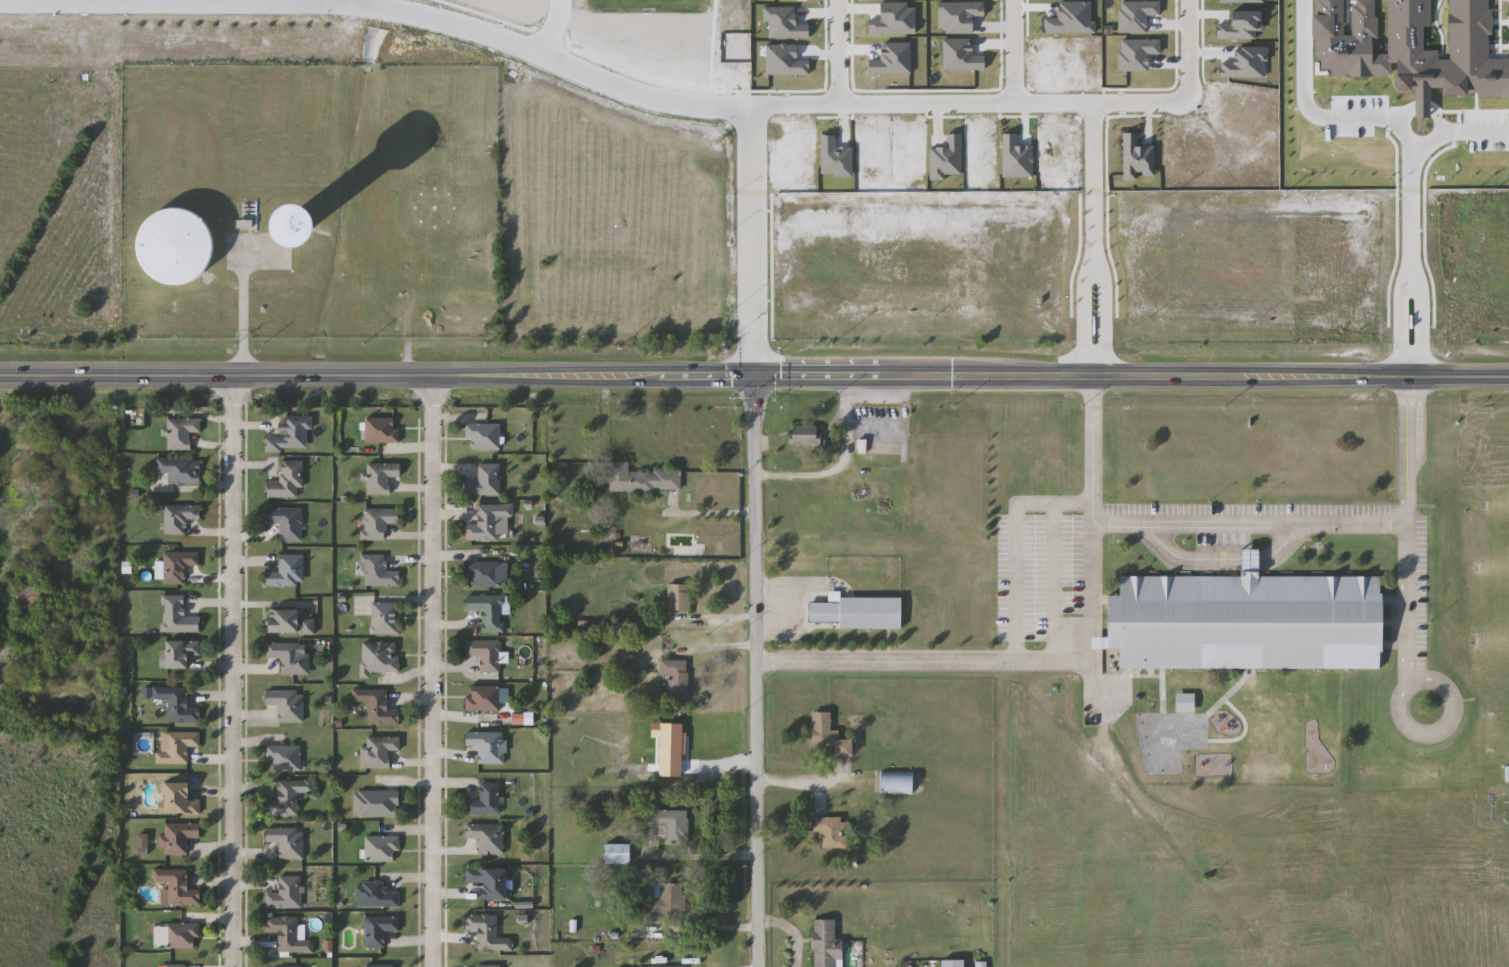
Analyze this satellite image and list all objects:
road: (349, 2)
road: (383, 9)
road: (550, 27)
park: (631, 30)
road: (1185, 50)
road: (1010, 51)
road: (833, 52)
building: (1052, 56)
road: (968, 102)
road: (1356, 117)
building: (1059, 131)
road: (1089, 175)
water tower: (299, 209)
building: (1078, 212)
road: (749, 241)
building: (172, 245)
road: (1408, 260)
building: (481, 279)
road: (242, 304)
building: (456, 311)
building: (483, 312)
road: (1102, 313)
road: (1080, 315)
traffic signals: (748, 376)
road: (754, 376)
building: (382, 431)
building: (182, 433)
building: (290, 435)
building: (804, 435)
building: (484, 437)
road: (1094, 440)
building: (882, 459)
road: (836, 466)
building: (181, 470)
building: (381, 477)
building: (644, 480)
building: (486, 481)
building: (288, 482)
road: (707, 512)
road: (1094, 512)
building: (179, 519)
building: (286, 522)
building: (378, 522)
building: (488, 522)
road: (1094, 532)
road: (1289, 541)
road: (1016, 542)
road: (1178, 557)
road: (1252, 559)
building: (178, 567)
building: (377, 571)
building: (288, 572)
building: (484, 574)
building: (29, 597)
building: (679, 597)
road: (1406, 603)
building: (489, 611)
building: (860, 612)
building: (178, 617)
building: (385, 618)
building: (1244, 621)
building: (290, 622)
building: (179, 654)
building: (486, 654)
building: (290, 657)
building: (379, 658)
road: (232, 671)
road: (429, 671)
road: (749, 671)
building: (676, 677)
building: (483, 699)
building: (177, 704)
building: (287, 704)
building: (377, 706)
building: (823, 729)
road: (1437, 731)
building: (488, 746)
building: (176, 747)
building: (846, 747)
building: (378, 751)
building: (284, 759)
building: (1508, 774)
building: (899, 783)
building: (289, 797)
building: (181, 799)
building: (486, 800)
building: (376, 804)
building: (671, 823)
building: (832, 832)
building: (178, 838)
building: (487, 838)
building: (287, 842)
building: (381, 848)
building: (619, 854)
building: (492, 882)
building: (177, 887)
building: (286, 894)
building: (376, 896)
building: (667, 900)
building: (379, 930)
building: (488, 932)
building: (181, 935)
building: (288, 935)
building: (827, 945)
building: (955, 963)
building: (174, 966)
building: (382, 966)
building: (490, 966)

